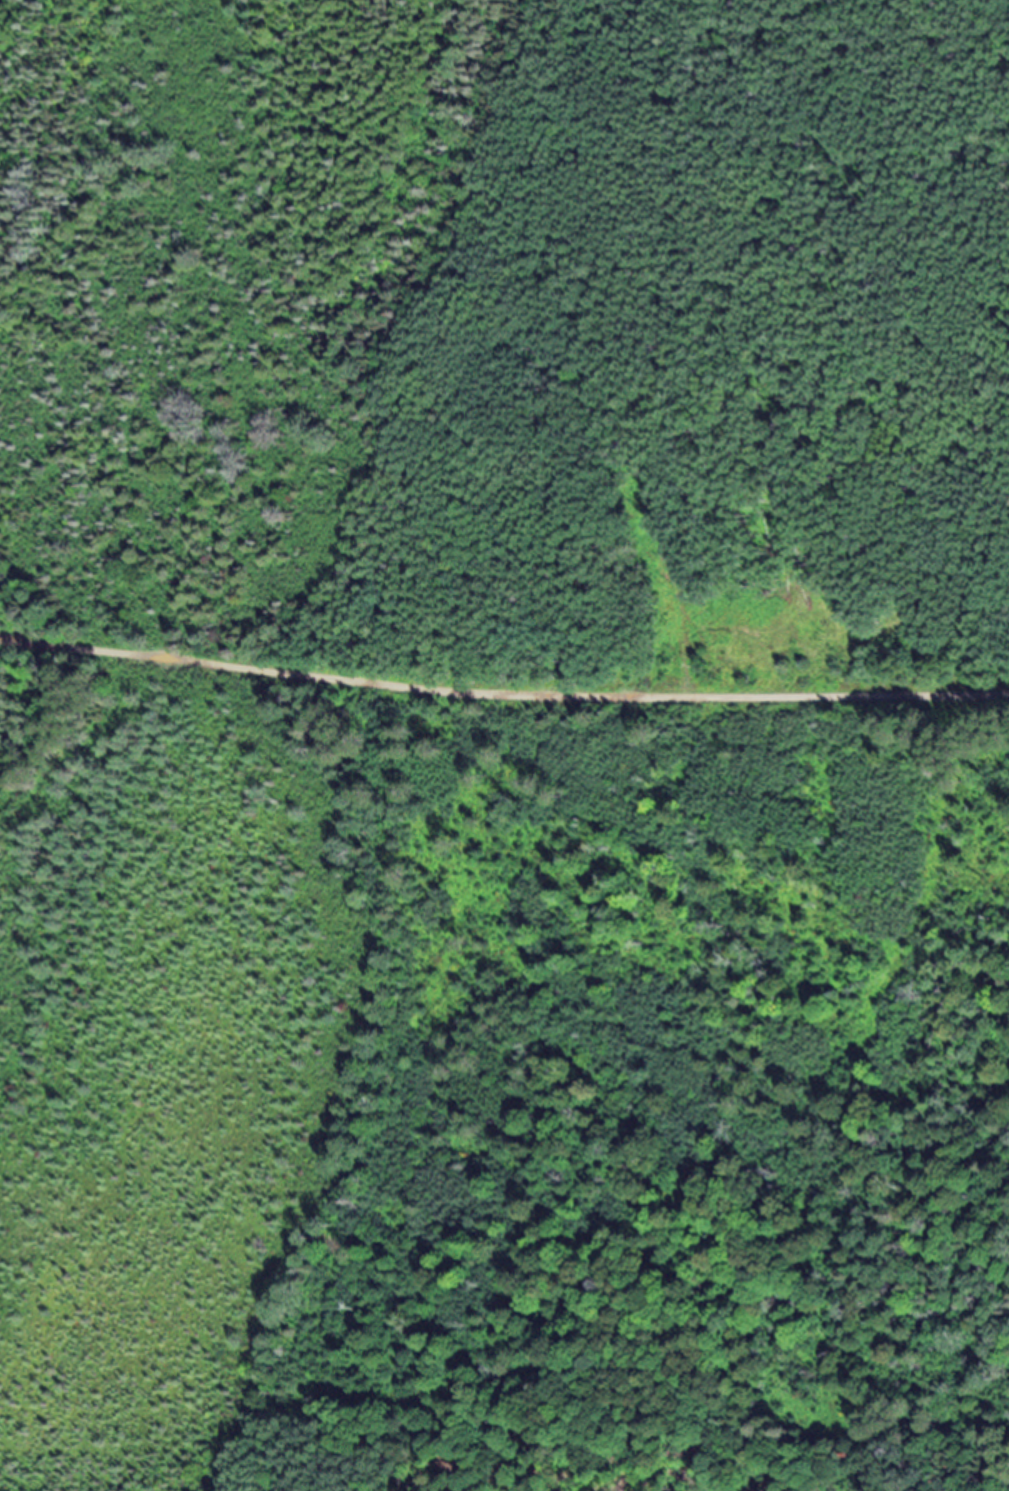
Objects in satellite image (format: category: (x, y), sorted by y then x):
road: (502, 694)

